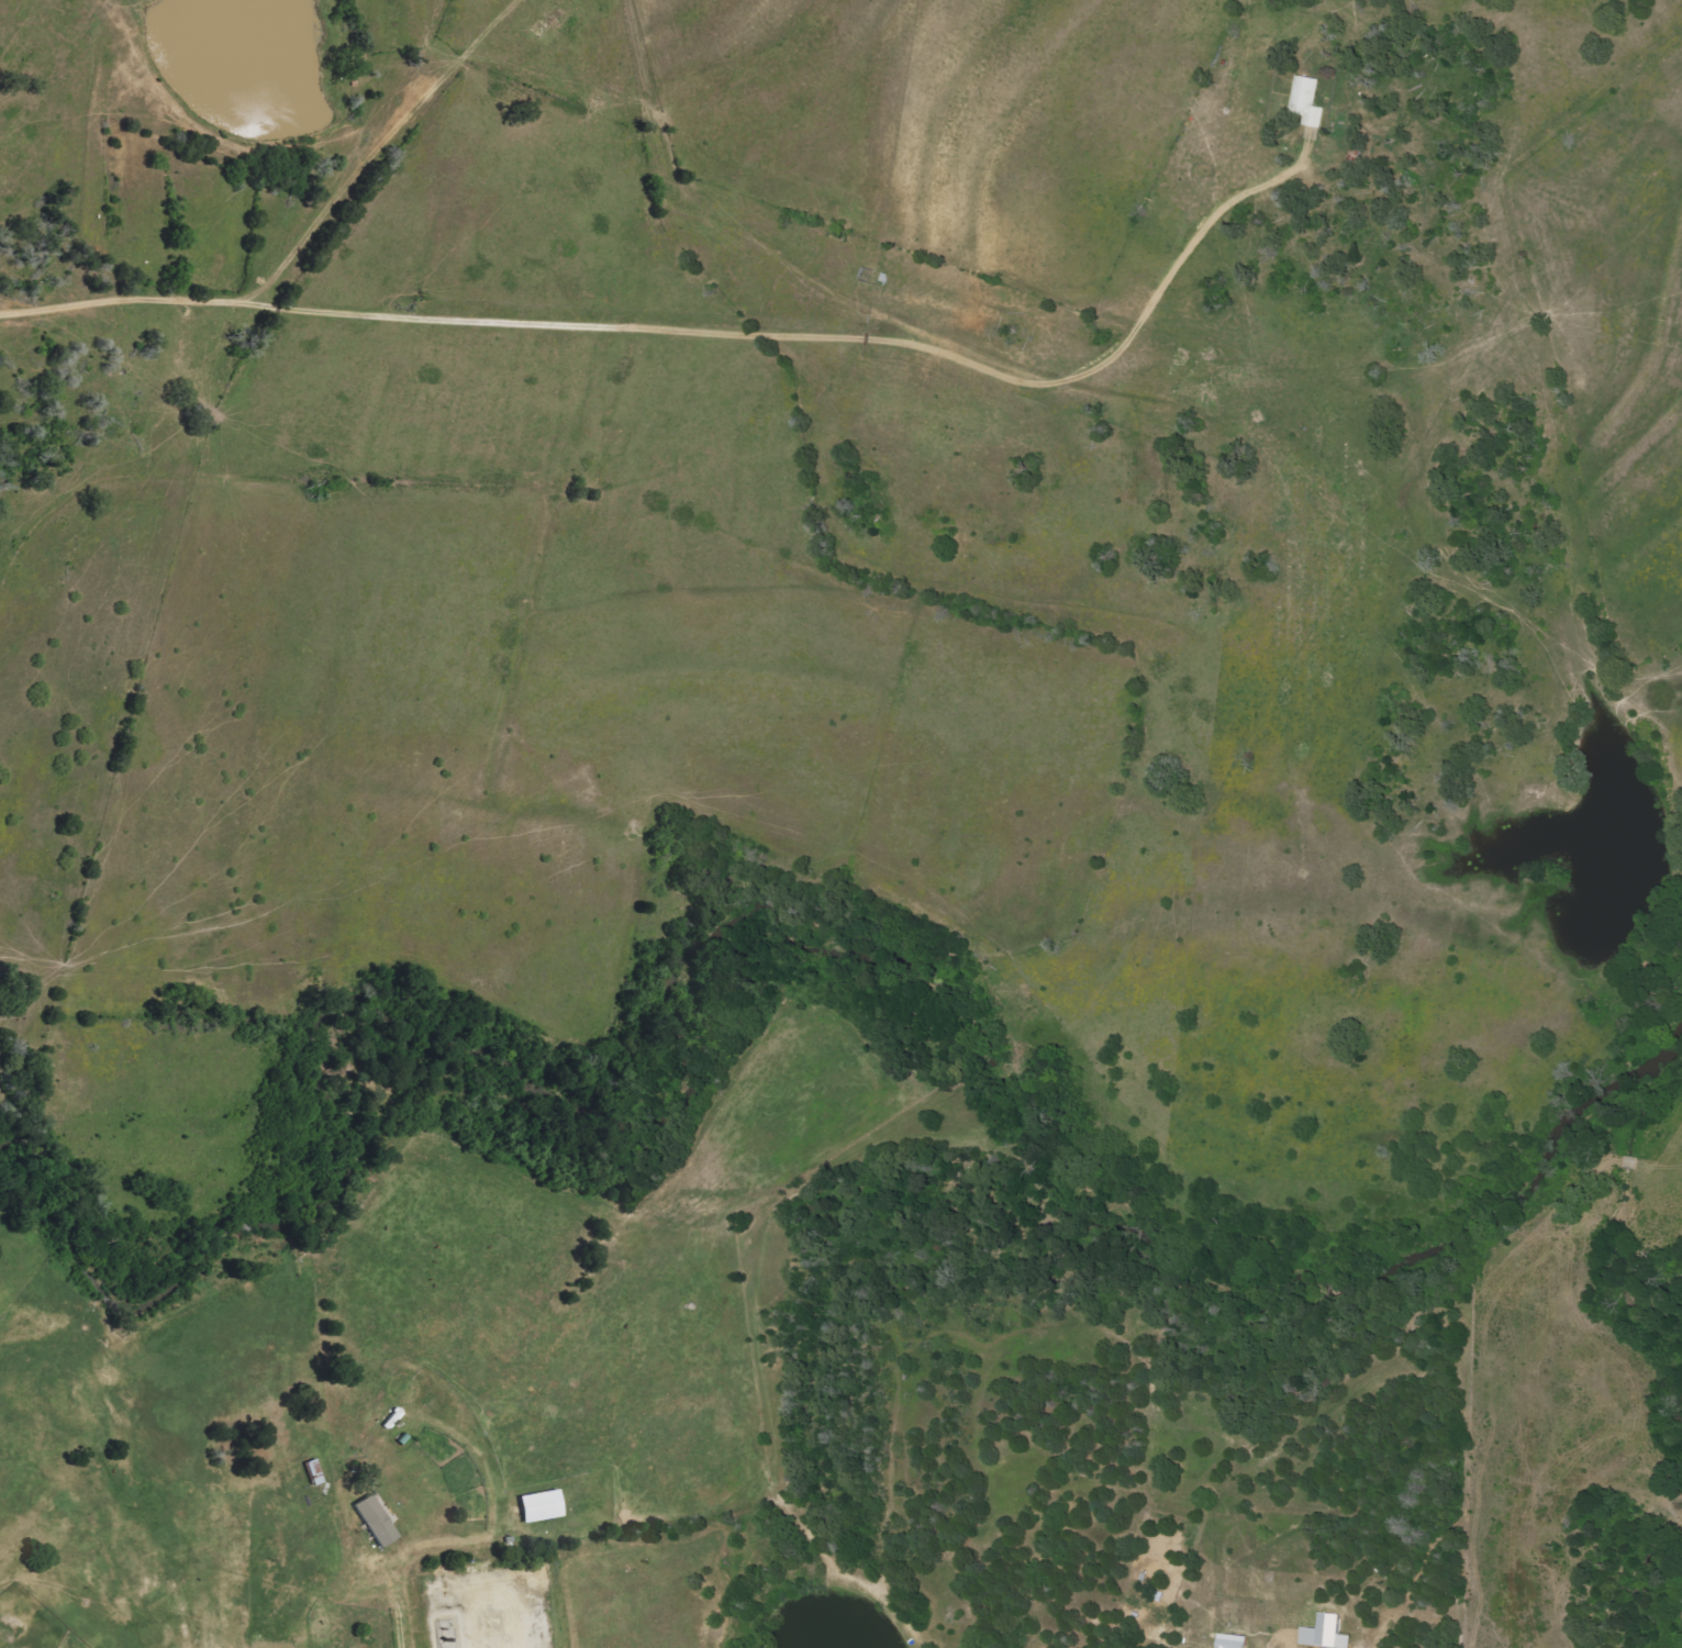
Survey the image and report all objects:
building: (1308, 101)
road: (268, 281)
road: (754, 338)
building: (543, 1505)
building: (377, 1521)
road: (397, 1613)
building: (1327, 1634)
building: (1235, 1641)

